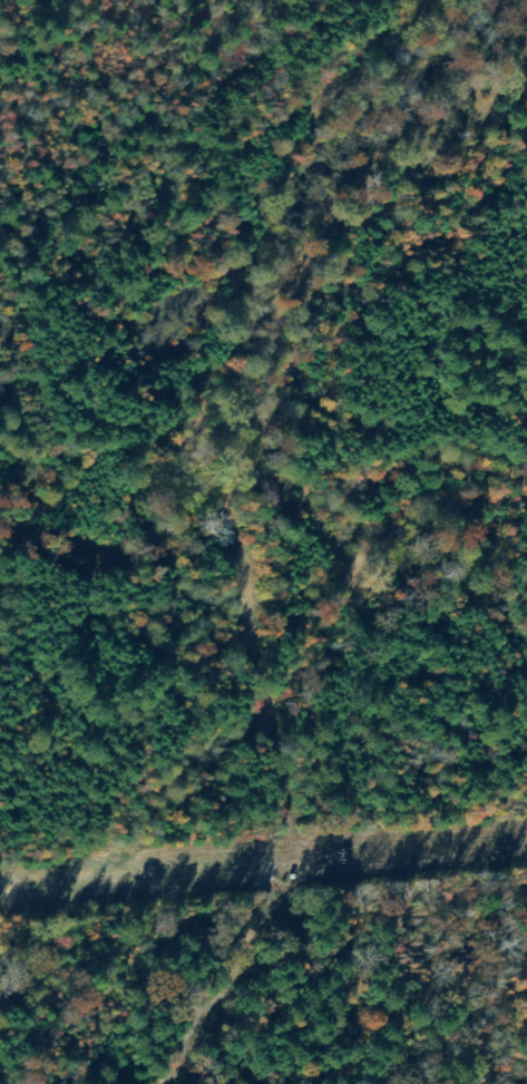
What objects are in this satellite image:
power tower: (333, 857)

